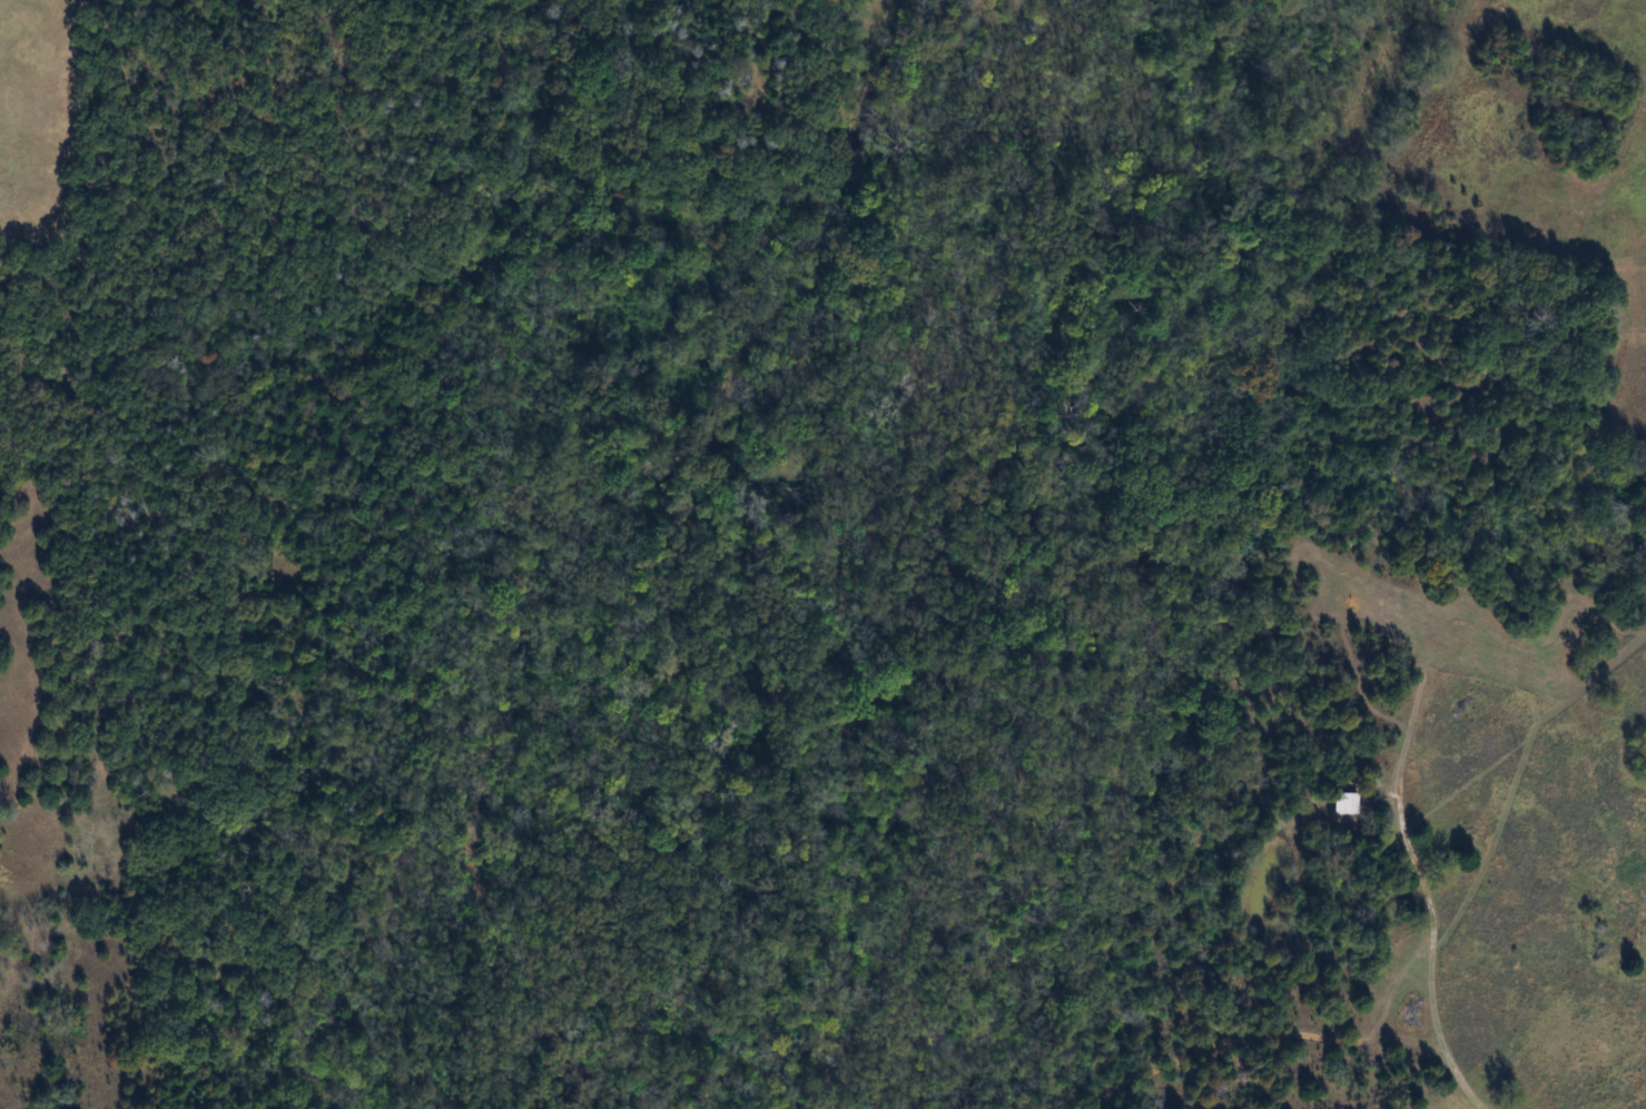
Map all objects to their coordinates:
road: (1438, 960)

